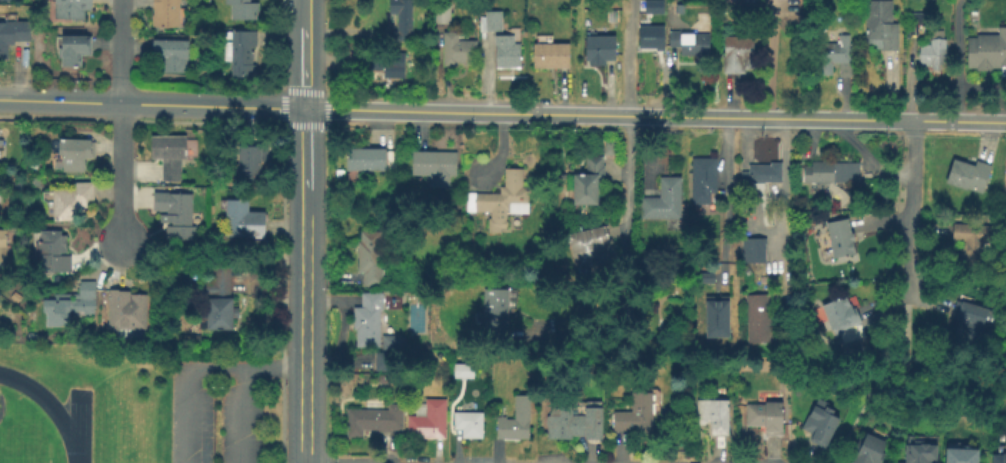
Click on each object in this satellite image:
building: (5, 0)
building: (750, 2)
building: (652, 6)
building: (73, 10)
building: (244, 10)
building: (167, 13)
building: (444, 14)
building: (403, 19)
building: (493, 22)
building: (882, 24)
building: (915, 24)
building: (13, 37)
building: (653, 38)
building: (692, 43)
building: (988, 49)
building: (601, 50)
building: (75, 51)
building: (459, 51)
building: (241, 53)
road: (305, 54)
building: (508, 54)
building: (740, 54)
building: (831, 54)
building: (934, 54)
building: (553, 56)
building: (172, 57)
road: (625, 58)
road: (771, 59)
road: (956, 60)
building: (380, 63)
road: (152, 105)
road: (655, 117)
road: (121, 121)
building: (77, 155)
building: (171, 156)
building: (371, 161)
building: (252, 165)
building: (436, 166)
building: (763, 174)
building: (831, 174)
building: (971, 177)
building: (705, 180)
building: (588, 181)
road: (786, 188)
road: (723, 193)
building: (505, 200)
building: (73, 203)
building: (666, 203)
road: (911, 210)
building: (177, 215)
building: (244, 221)
building: (842, 237)
building: (972, 241)
building: (591, 246)
building: (3, 247)
building: (753, 250)
building: (53, 254)
building: (373, 259)
road: (625, 263)
building: (707, 278)
road: (303, 286)
building: (220, 302)
building: (72, 304)
building: (498, 310)
building: (128, 311)
building: (841, 315)
building: (721, 319)
building: (758, 319)
building: (370, 320)
building: (972, 321)
building: (396, 343)
building: (852, 346)
building: (379, 360)
road: (270, 363)
road: (888, 387)
road: (182, 388)
road: (237, 414)
building: (637, 415)
building: (715, 415)
building: (767, 418)
building: (430, 420)
building: (374, 421)
building: (572, 421)
building: (517, 422)
building: (821, 423)
track: (73, 425)
building: (470, 426)
track: (29, 427)
park: (22, 448)
building: (869, 452)
building: (922, 454)
building: (964, 456)
building: (1001, 456)

